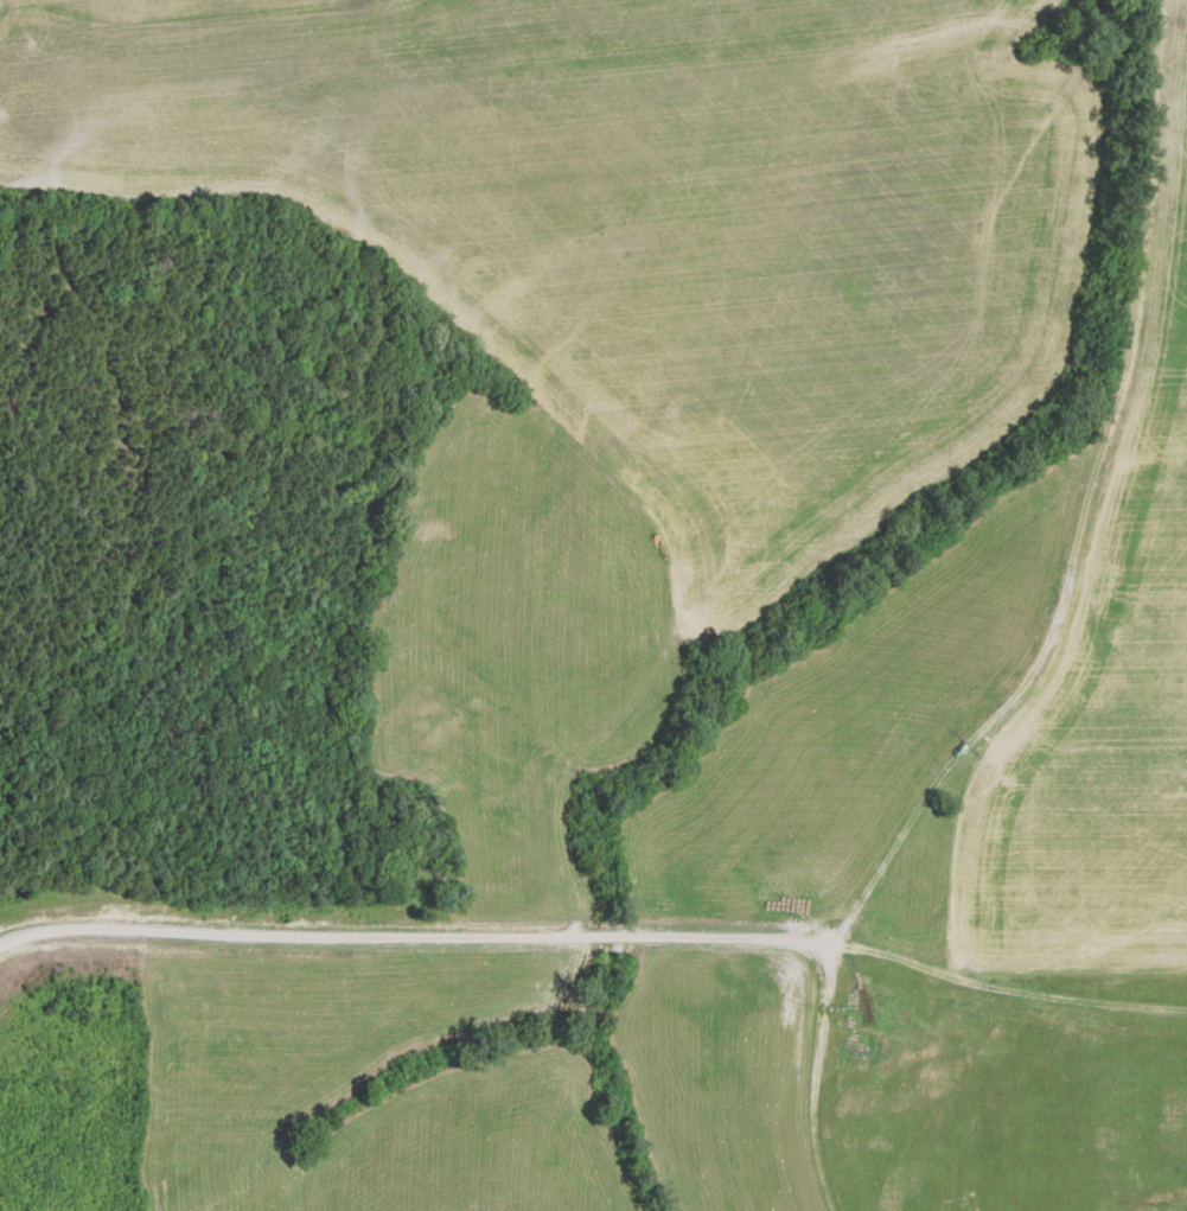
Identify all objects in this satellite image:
road: (266, 798)
road: (637, 1002)

